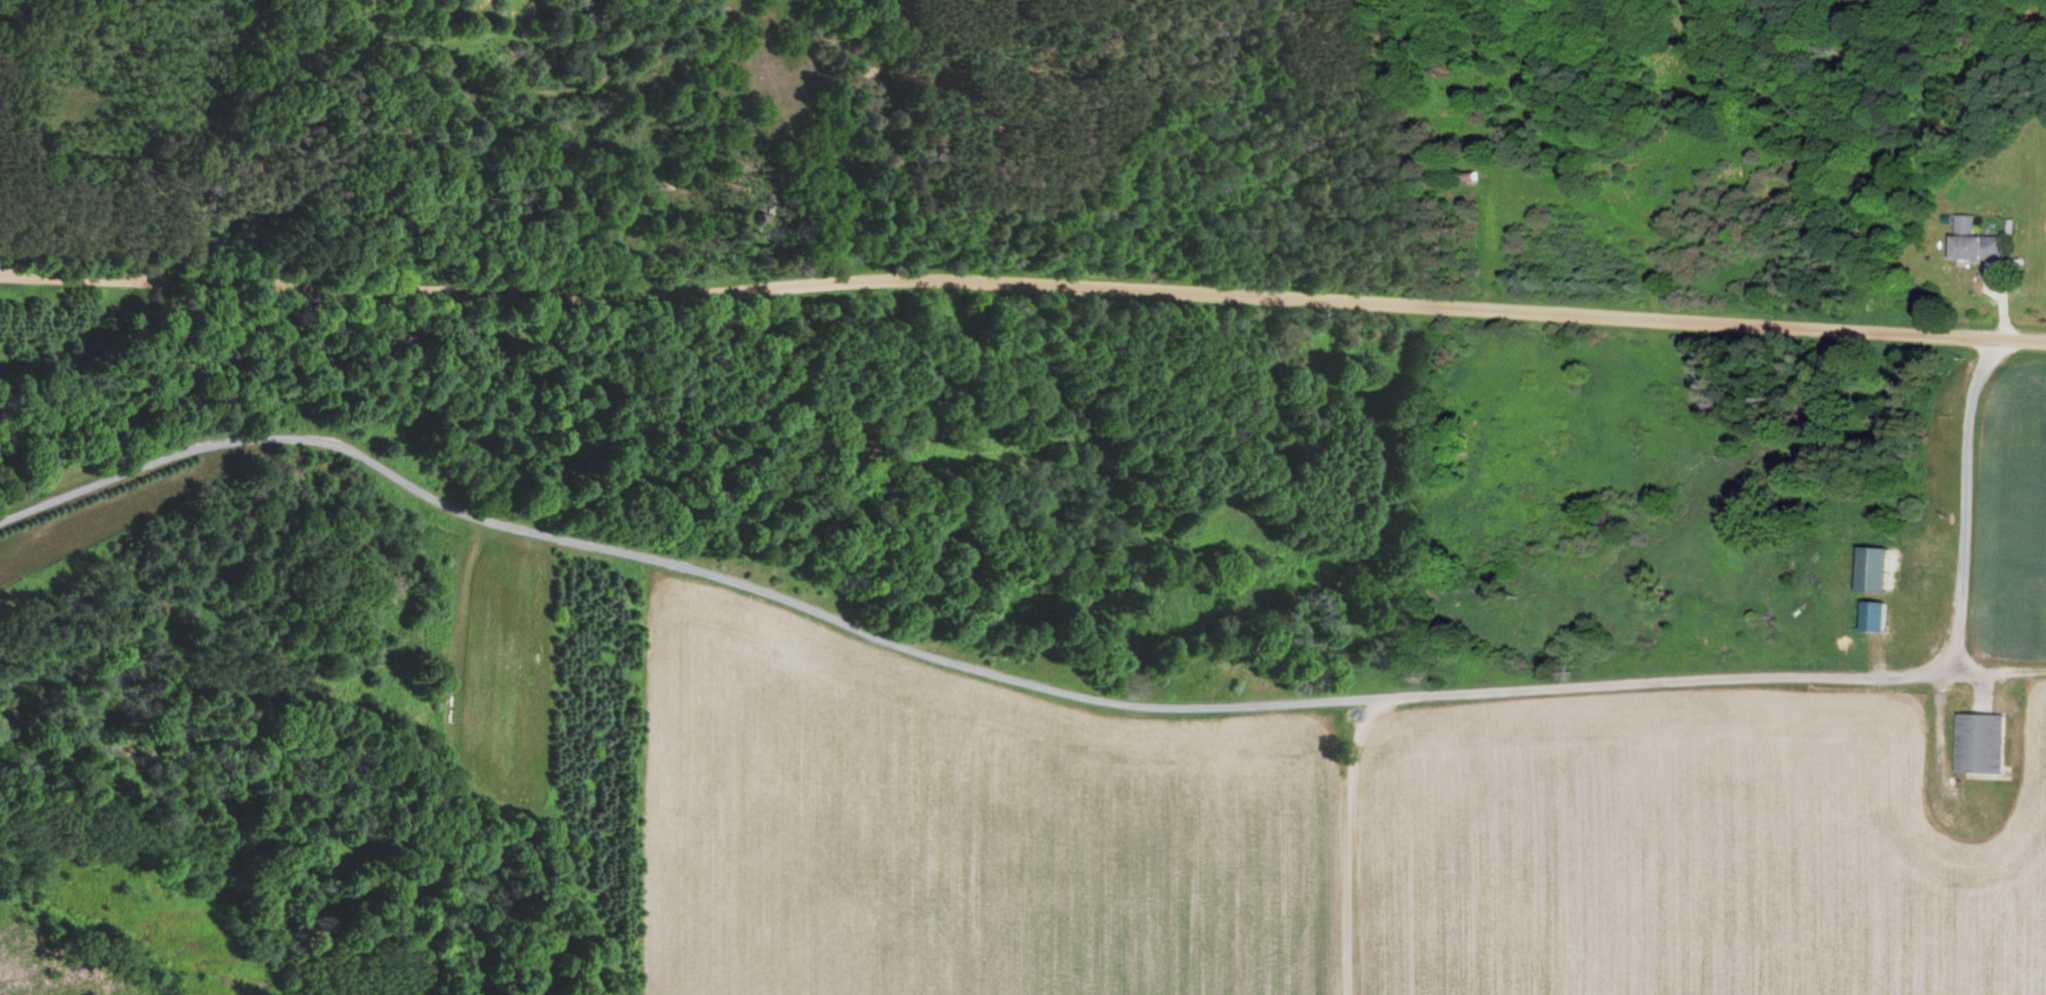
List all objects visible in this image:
building: (1975, 242)
road: (1023, 281)
building: (1922, 552)
building: (1873, 618)
building: (1978, 743)

